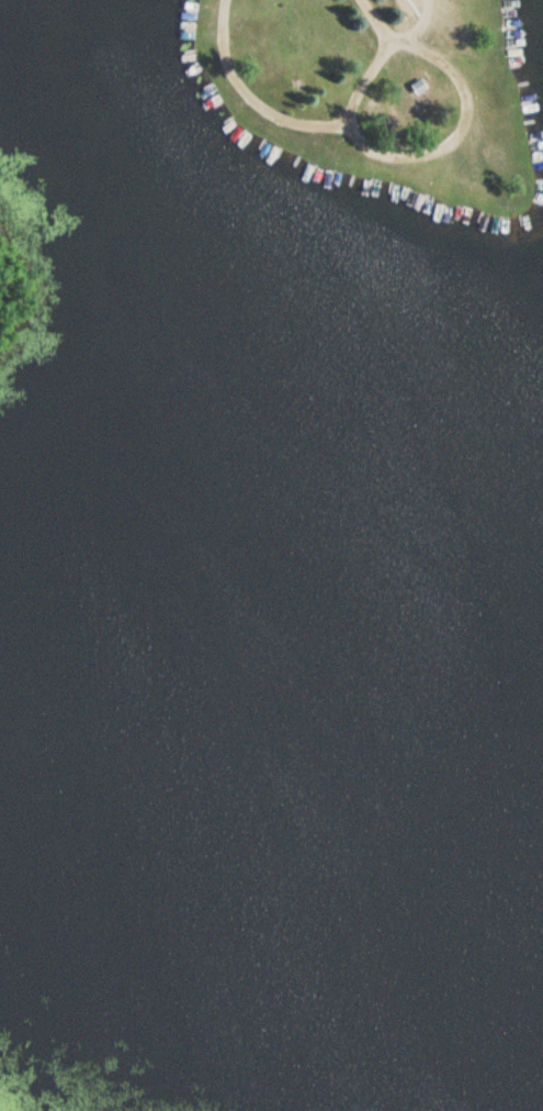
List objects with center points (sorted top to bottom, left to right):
road: (378, 13)
building: (418, 87)

